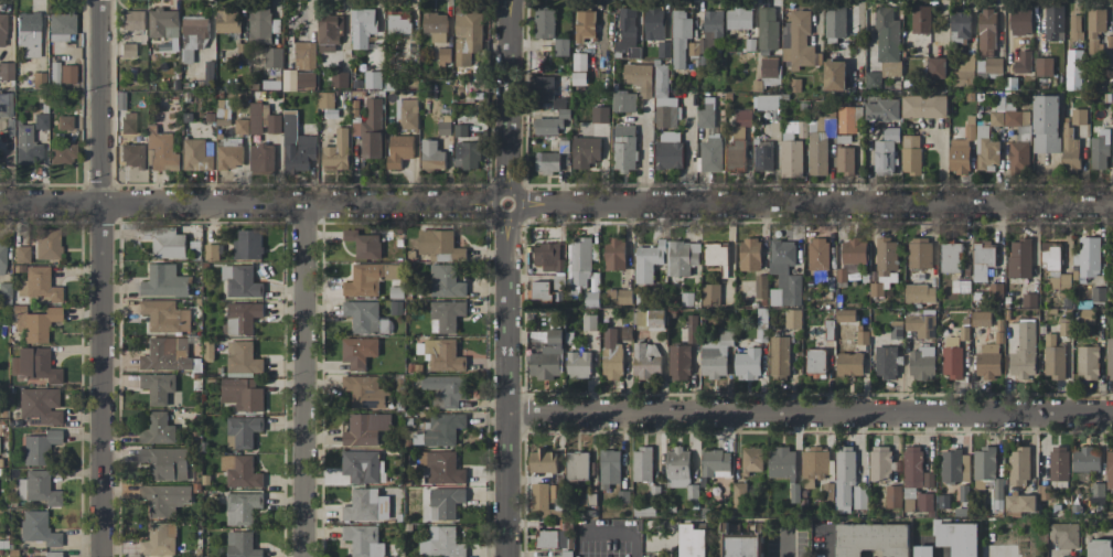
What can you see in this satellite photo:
building: (739, 19)
building: (921, 19)
building: (132, 20)
building: (227, 21)
building: (398, 22)
building: (544, 22)
building: (1020, 22)
building: (163, 23)
building: (835, 23)
building: (1053, 23)
building: (654, 24)
building: (960, 24)
building: (260, 25)
building: (585, 25)
building: (60, 26)
building: (362, 26)
building: (435, 26)
building: (768, 28)
building: (1075, 28)
building: (1095, 28)
building: (2, 30)
building: (194, 31)
building: (328, 32)
building: (708, 33)
building: (28, 35)
building: (627, 35)
building: (887, 35)
building: (467, 38)
building: (679, 38)
building: (799, 41)
building: (987, 43)
building: (172, 44)
building: (560, 47)
building: (663, 50)
building: (304, 55)
building: (445, 55)
building: (274, 57)
building: (579, 62)
building: (1023, 62)
building: (1044, 66)
building: (769, 67)
building: (937, 67)
building: (964, 69)
building: (1073, 69)
building: (6, 71)
building: (62, 74)
building: (834, 75)
building: (639, 78)
building: (299, 79)
building: (339, 79)
building: (373, 79)
building: (36, 82)
building: (544, 88)
building: (325, 100)
building: (664, 100)
building: (623, 101)
building: (767, 101)
building: (6, 105)
building: (924, 106)
building: (884, 110)
building: (407, 114)
building: (706, 114)
building: (599, 115)
building: (1009, 116)
building: (1079, 116)
building: (743, 118)
building: (847, 118)
building: (264, 120)
building: (40, 121)
building: (63, 122)
building: (127, 122)
building: (1046, 124)
building: (242, 126)
building: (547, 126)
building: (372, 129)
building: (297, 146)
building: (25, 147)
building: (624, 148)
building: (1070, 148)
building: (162, 150)
building: (399, 150)
building: (668, 150)
building: (792, 150)
building: (1100, 150)
building: (961, 151)
building: (336, 152)
building: (586, 152)
building: (817, 152)
building: (61, 153)
building: (231, 153)
road: (691, 153)
building: (710, 153)
building: (986, 153)
building: (197, 154)
building: (911, 154)
building: (132, 156)
building: (432, 156)
building: (468, 156)
building: (735, 156)
building: (762, 156)
building: (1018, 156)
road: (644, 157)
building: (885, 158)
building: (261, 159)
building: (844, 160)
building: (547, 162)
road: (556, 204)
building: (168, 243)
building: (46, 244)
building: (364, 244)
building: (247, 245)
building: (439, 245)
building: (854, 251)
building: (919, 253)
building: (211, 254)
building: (614, 254)
building: (817, 254)
building: (21, 255)
building: (715, 255)
building: (749, 255)
building: (2, 257)
building: (548, 257)
building: (683, 257)
building: (1050, 257)
building: (1088, 257)
building: (950, 258)
building: (983, 259)
building: (1019, 259)
building: (648, 261)
building: (580, 265)
building: (885, 266)
building: (784, 274)
road: (98, 278)
road: (509, 278)
building: (368, 279)
building: (164, 281)
building: (240, 281)
building: (446, 281)
building: (36, 286)
building: (761, 286)
building: (3, 288)
building: (541, 290)
building: (920, 293)
building: (710, 294)
building: (624, 297)
building: (1028, 300)
building: (165, 315)
building: (446, 315)
building: (845, 315)
building: (365, 317)
building: (243, 318)
building: (793, 319)
building: (981, 319)
building: (656, 320)
building: (589, 322)
building: (34, 323)
building: (921, 325)
building: (692, 329)
building: (863, 338)
building: (1024, 351)
building: (358, 352)
building: (167, 354)
building: (443, 355)
building: (611, 355)
building: (716, 355)
building: (780, 355)
building: (243, 357)
building: (548, 357)
building: (952, 357)
building: (1110, 358)
building: (645, 361)
building: (815, 361)
building: (988, 361)
building: (1055, 361)
building: (678, 362)
building: (886, 362)
building: (1088, 362)
building: (921, 363)
building: (578, 364)
building: (748, 364)
building: (849, 364)
building: (33, 365)
road: (303, 381)
building: (158, 387)
building: (446, 389)
building: (365, 392)
building: (242, 394)
building: (39, 406)
road: (811, 416)
building: (158, 429)
building: (365, 429)
building: (440, 429)
building: (242, 431)
building: (39, 447)
building: (1085, 459)
building: (751, 460)
building: (543, 461)
building: (163, 463)
building: (715, 463)
building: (781, 463)
building: (1059, 463)
building: (642, 464)
building: (577, 465)
building: (814, 465)
building: (1018, 465)
building: (363, 467)
building: (954, 467)
building: (440, 468)
building: (609, 468)
building: (677, 468)
building: (916, 469)
building: (1110, 470)
building: (240, 472)
building: (988, 474)
building: (847, 482)
building: (36, 489)
building: (1096, 492)
building: (794, 493)
building: (827, 493)
building: (555, 494)
building: (739, 496)
building: (893, 496)
building: (164, 499)
building: (539, 499)
building: (909, 499)
building: (924, 502)
building: (1019, 503)
building: (443, 504)
building: (366, 506)
building: (242, 507)
building: (38, 528)
building: (1064, 535)
building: (957, 537)
building: (552, 538)
building: (159, 540)
building: (363, 540)
building: (873, 540)
building: (692, 542)
building: (441, 543)
building: (745, 544)
road: (828, 544)
building: (242, 545)
road: (633, 547)
road: (784, 547)
building: (1100, 548)
building: (923, 550)
building: (51, 554)
building: (1063, 556)

